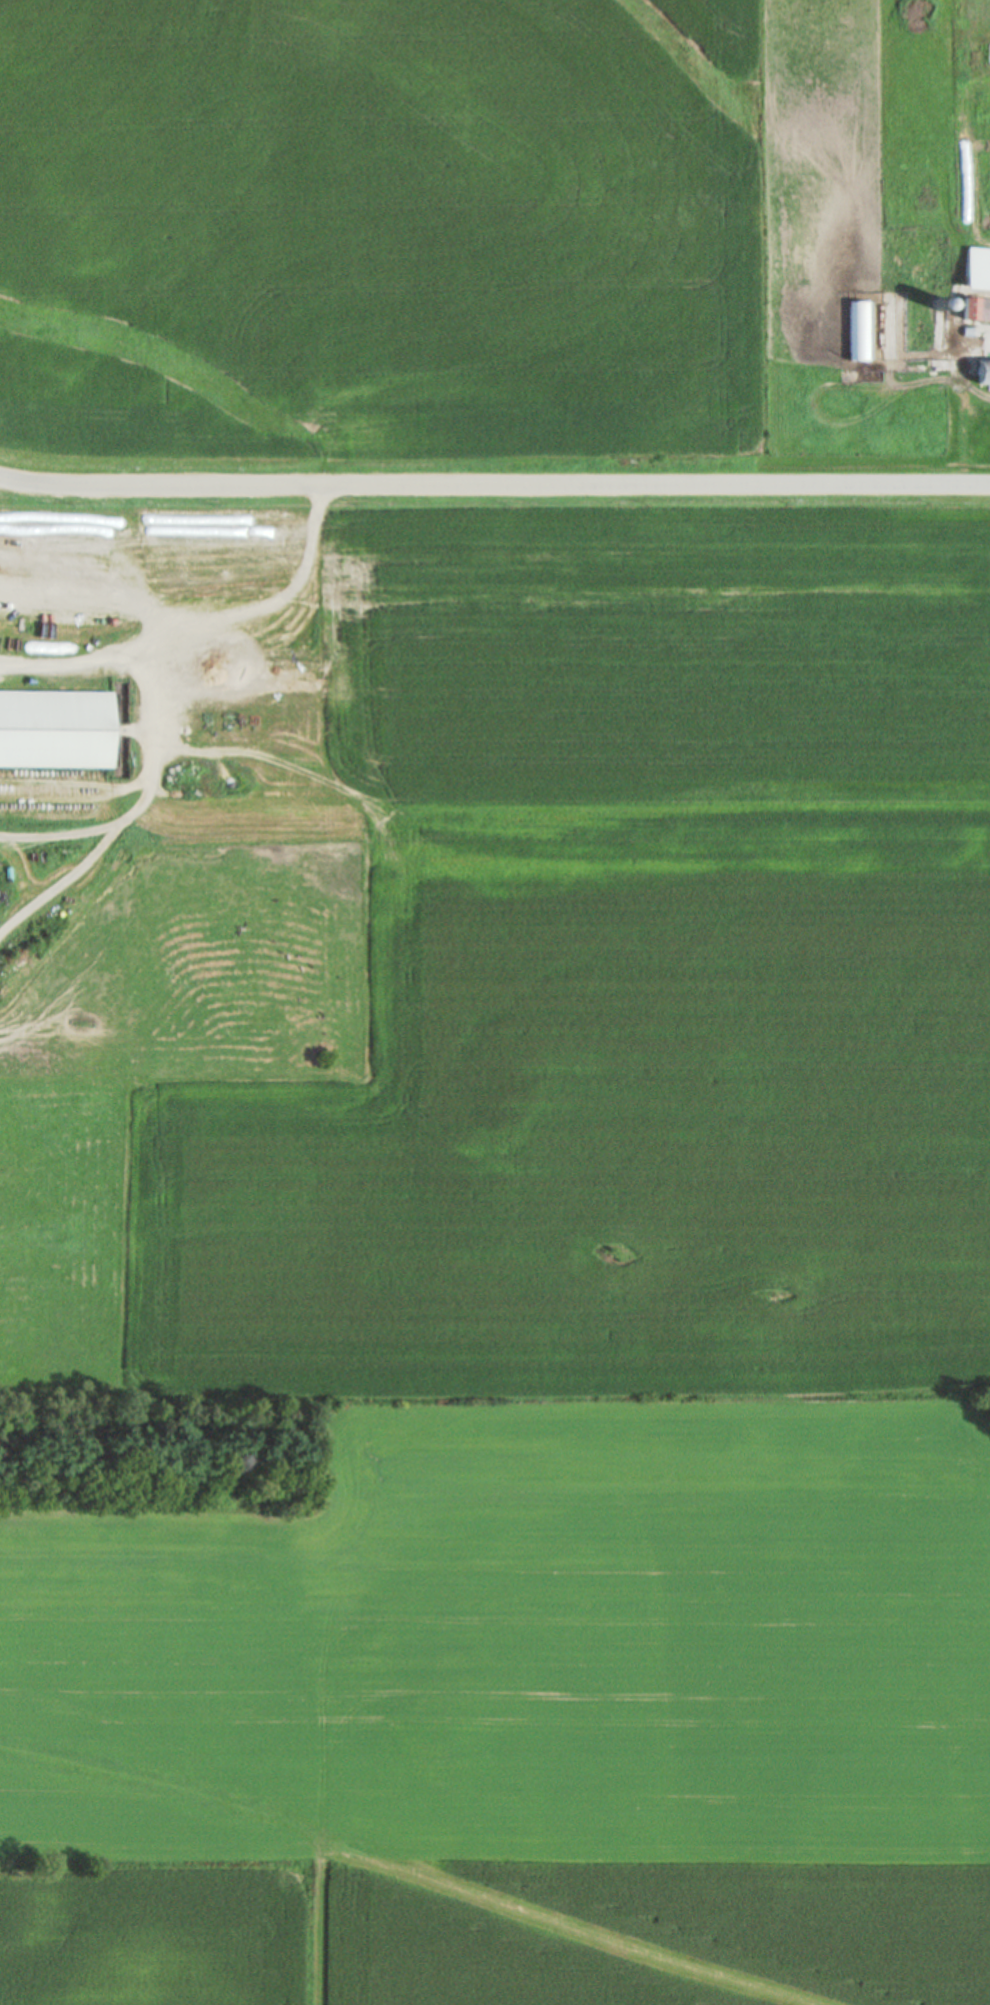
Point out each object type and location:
building: (977, 267)
building: (976, 307)
building: (860, 329)
building: (984, 371)
road: (494, 486)
road: (67, 667)
road: (141, 680)
building: (55, 728)
road: (64, 835)

